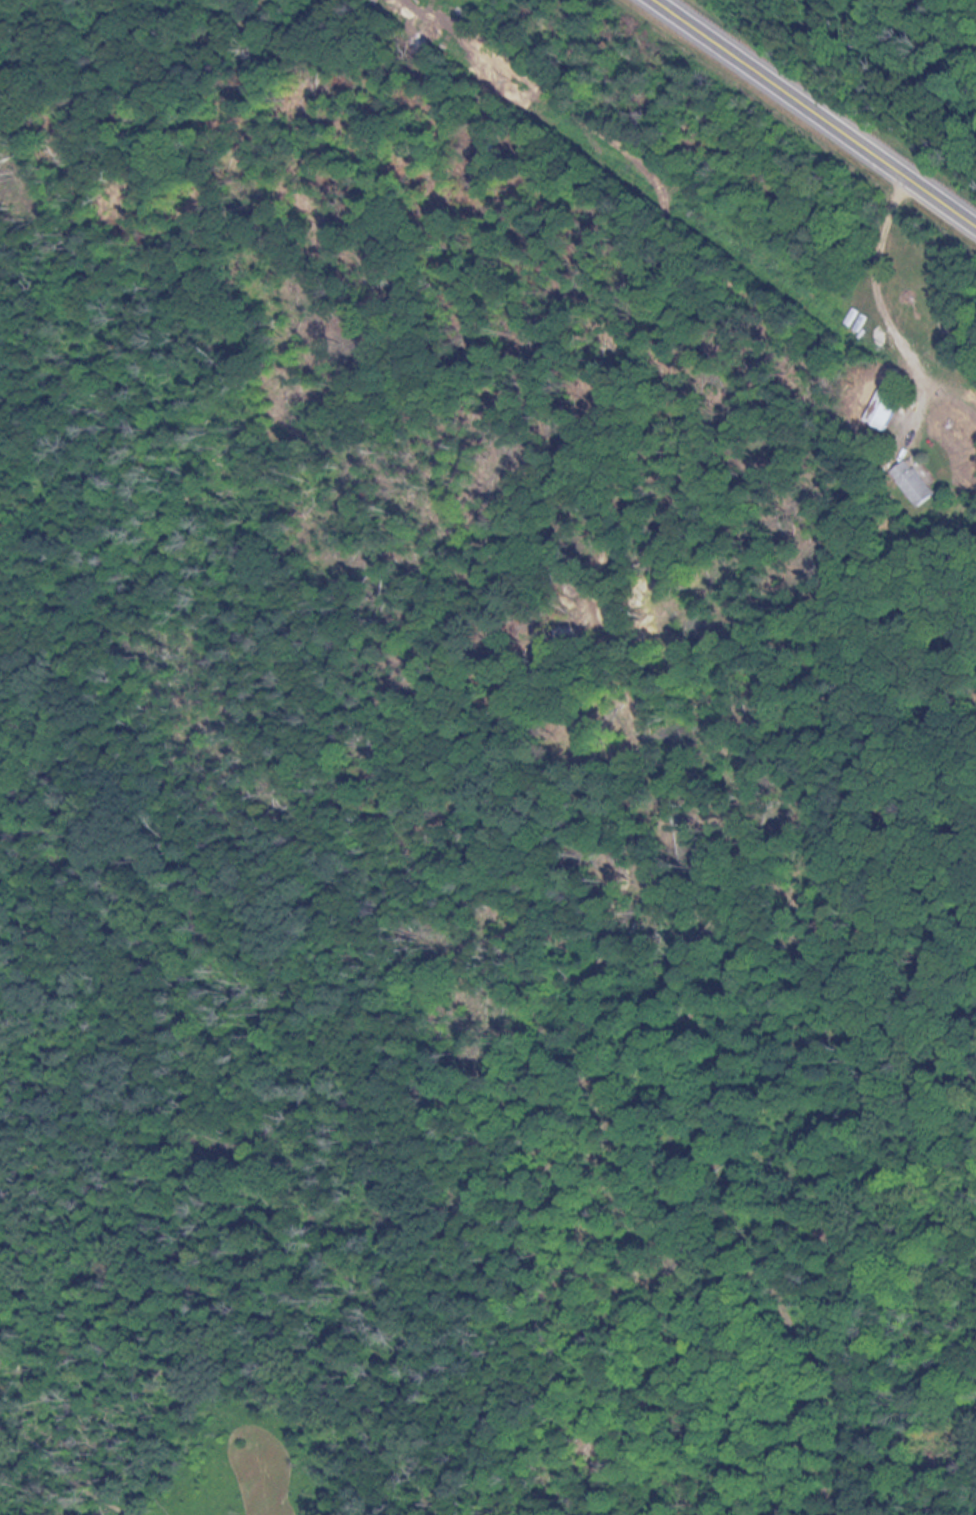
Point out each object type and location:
road: (820, 109)
building: (890, 415)
building: (917, 484)

